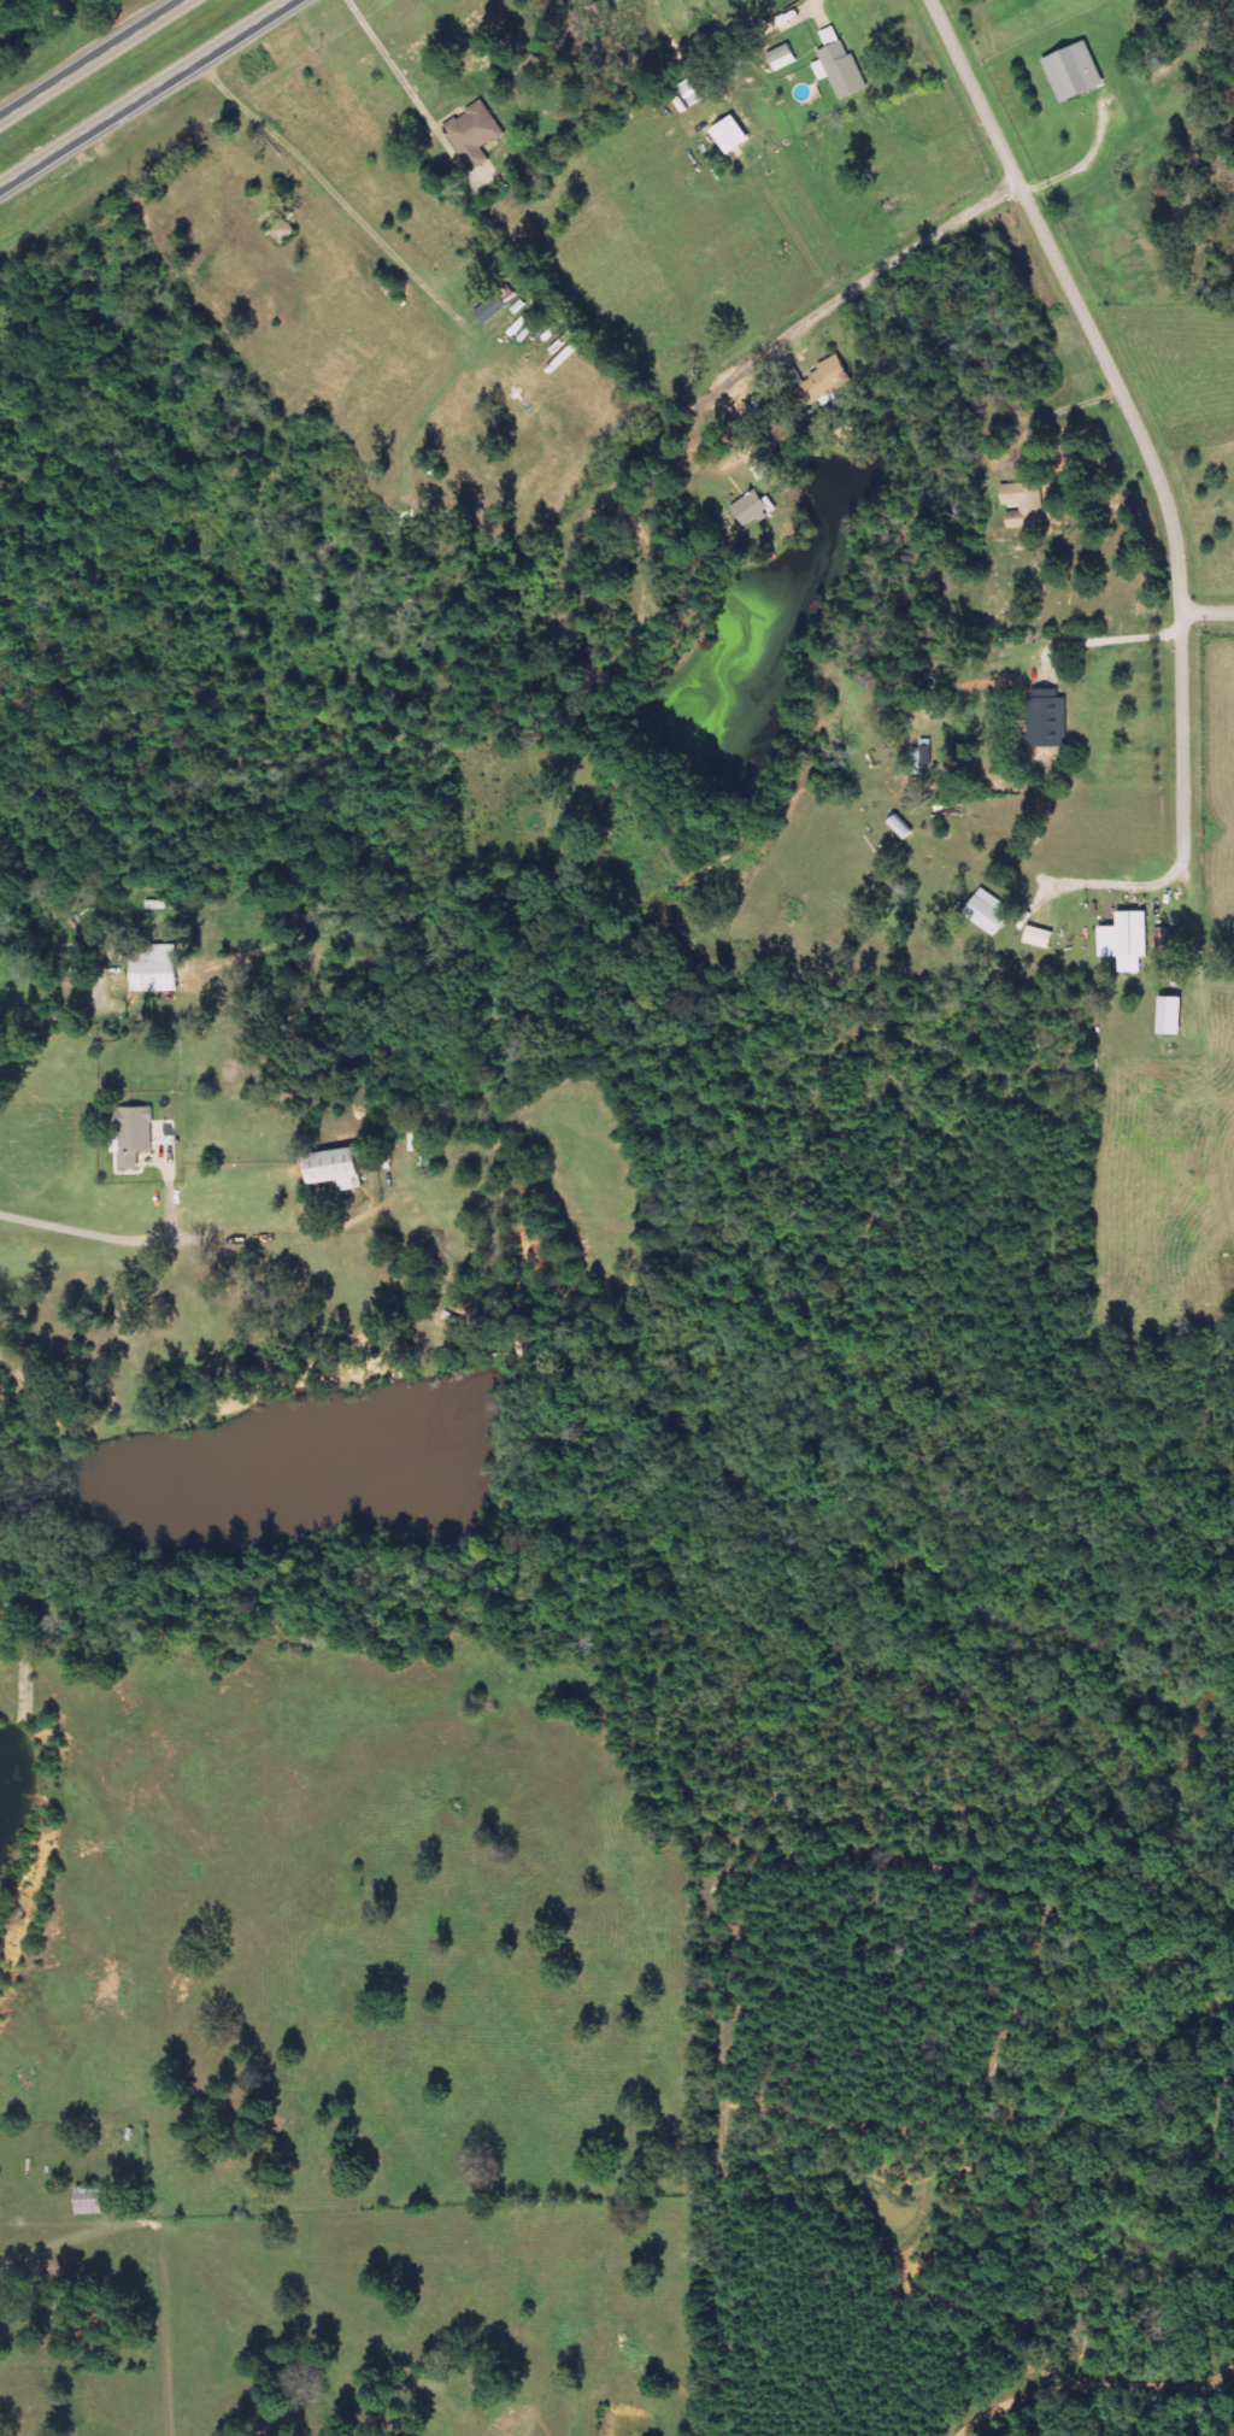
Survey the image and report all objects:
building: (781, 58)
road: (92, 59)
building: (839, 66)
building: (1073, 71)
road: (145, 93)
building: (474, 133)
building: (729, 135)
building: (495, 304)
road: (789, 333)
building: (822, 383)
road: (1128, 409)
building: (1022, 503)
building: (752, 509)
road: (1206, 614)
road: (1101, 640)
building: (1046, 718)
building: (900, 827)
road: (1105, 885)
building: (987, 910)
building: (1126, 940)
building: (154, 968)
building: (1169, 1015)
building: (133, 1135)
building: (334, 1167)
road: (134, 1240)

